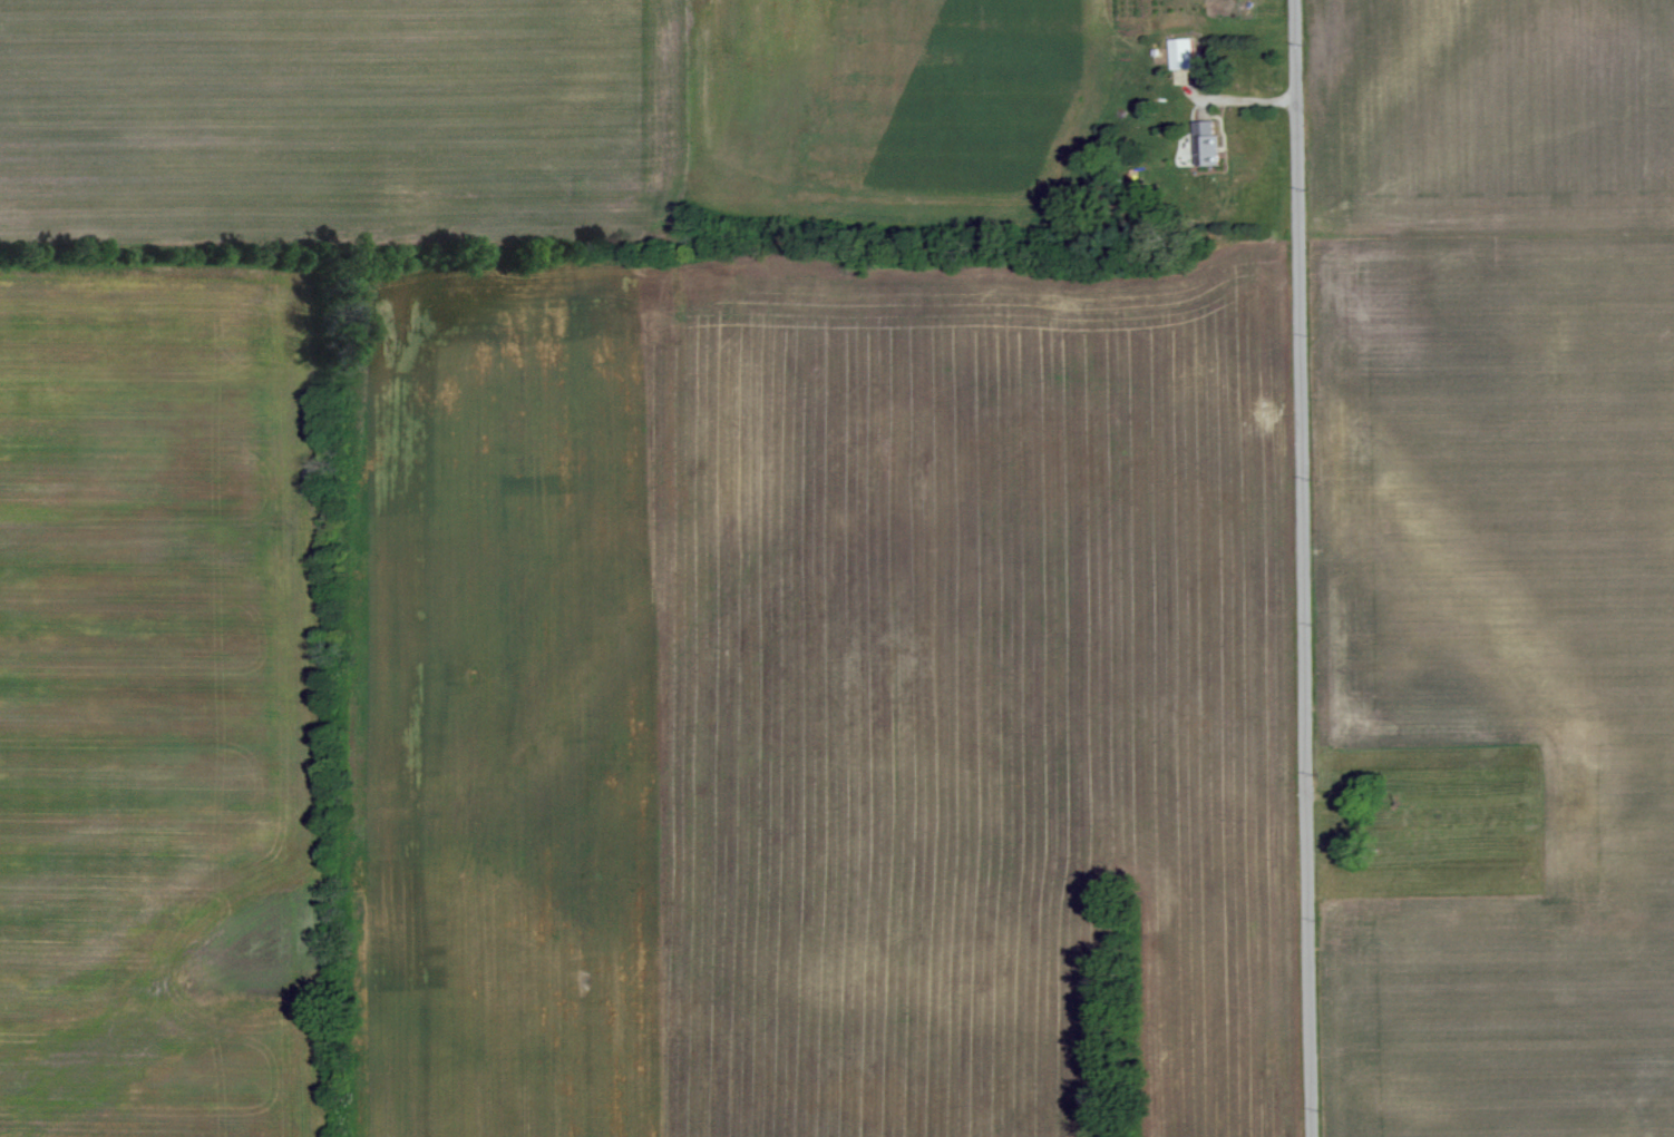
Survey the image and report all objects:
building: (1182, 55)
building: (1206, 145)
road: (1305, 568)

